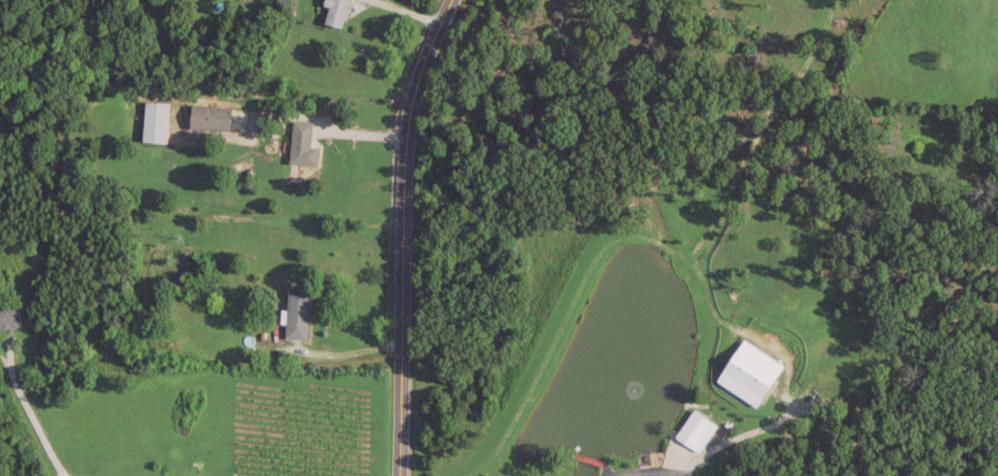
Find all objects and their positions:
building: (334, 11)
building: (206, 116)
building: (152, 121)
building: (300, 143)
road: (400, 234)
building: (296, 312)
building: (8, 317)
road: (341, 352)
road: (25, 411)
building: (690, 427)
road: (731, 445)

